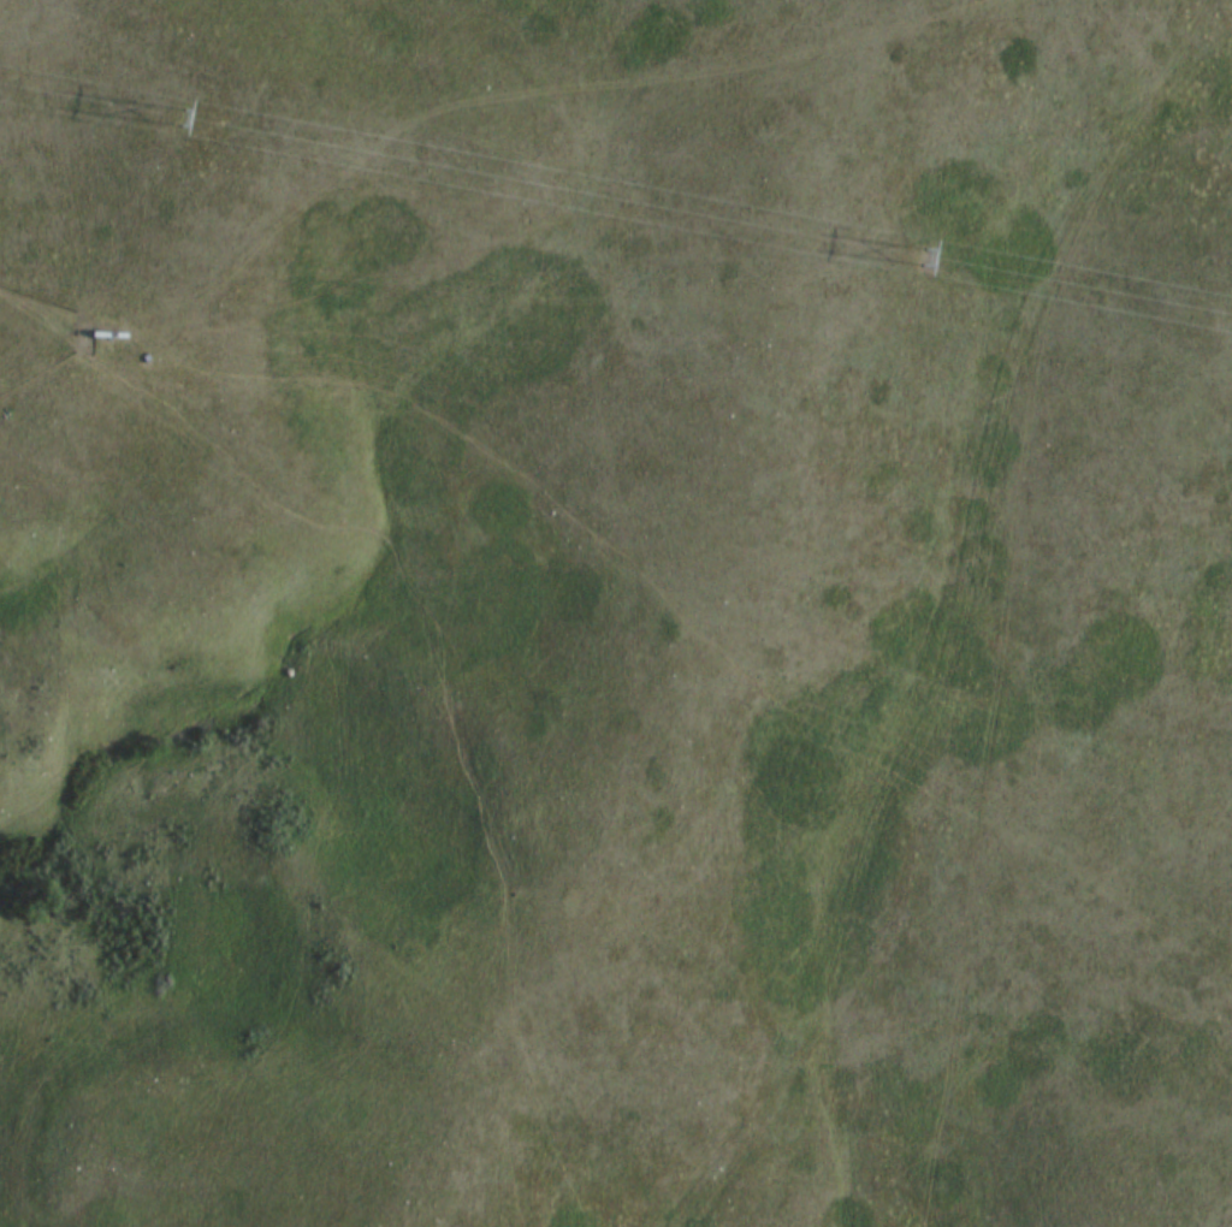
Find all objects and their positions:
power tower: (179, 118)
power tower: (923, 256)

